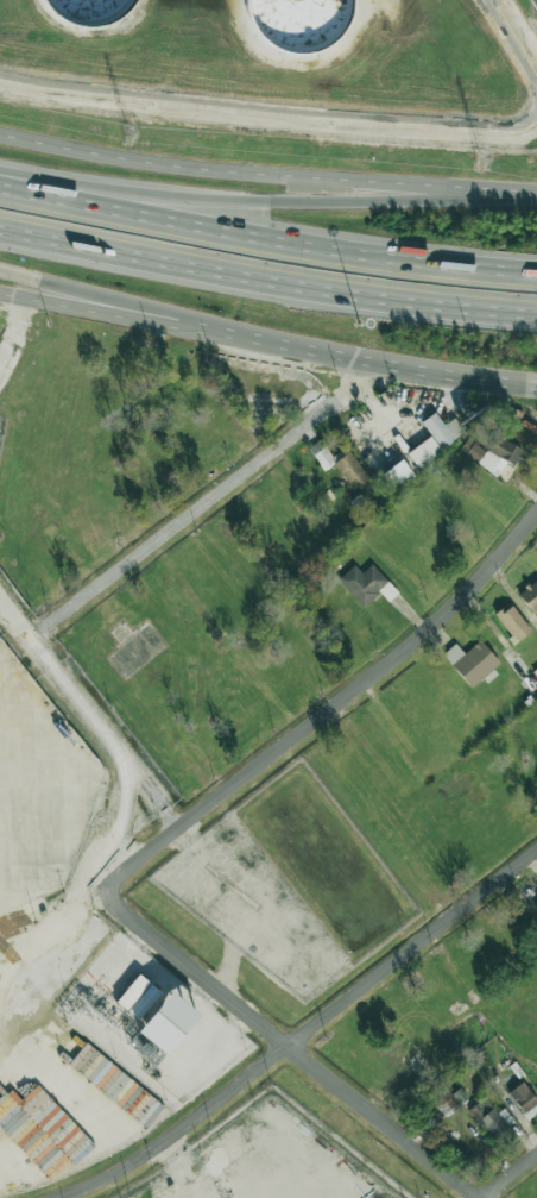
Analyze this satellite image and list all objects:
building: (94, 13)
storage tank: (94, 13)
building: (298, 24)
storage tank: (298, 24)
road: (512, 40)
road: (270, 106)
power tower: (131, 136)
power tower: (486, 159)
road: (266, 173)
road: (65, 200)
road: (303, 201)
road: (333, 251)
road: (267, 281)
road: (119, 302)
road: (119, 313)
road: (14, 327)
road: (386, 362)
building: (441, 429)
building: (424, 452)
building: (492, 453)
building: (322, 454)
building: (350, 470)
building: (397, 475)
road: (203, 496)
building: (362, 583)
building: (529, 595)
building: (512, 622)
building: (470, 661)
building: (535, 670)
road: (90, 708)
road: (277, 752)
building: (536, 902)
building: (154, 1012)
road: (305, 1034)
road: (295, 1046)
building: (153, 1055)
building: (524, 1099)
building: (491, 1119)
building: (227, 1152)
road: (510, 1177)

